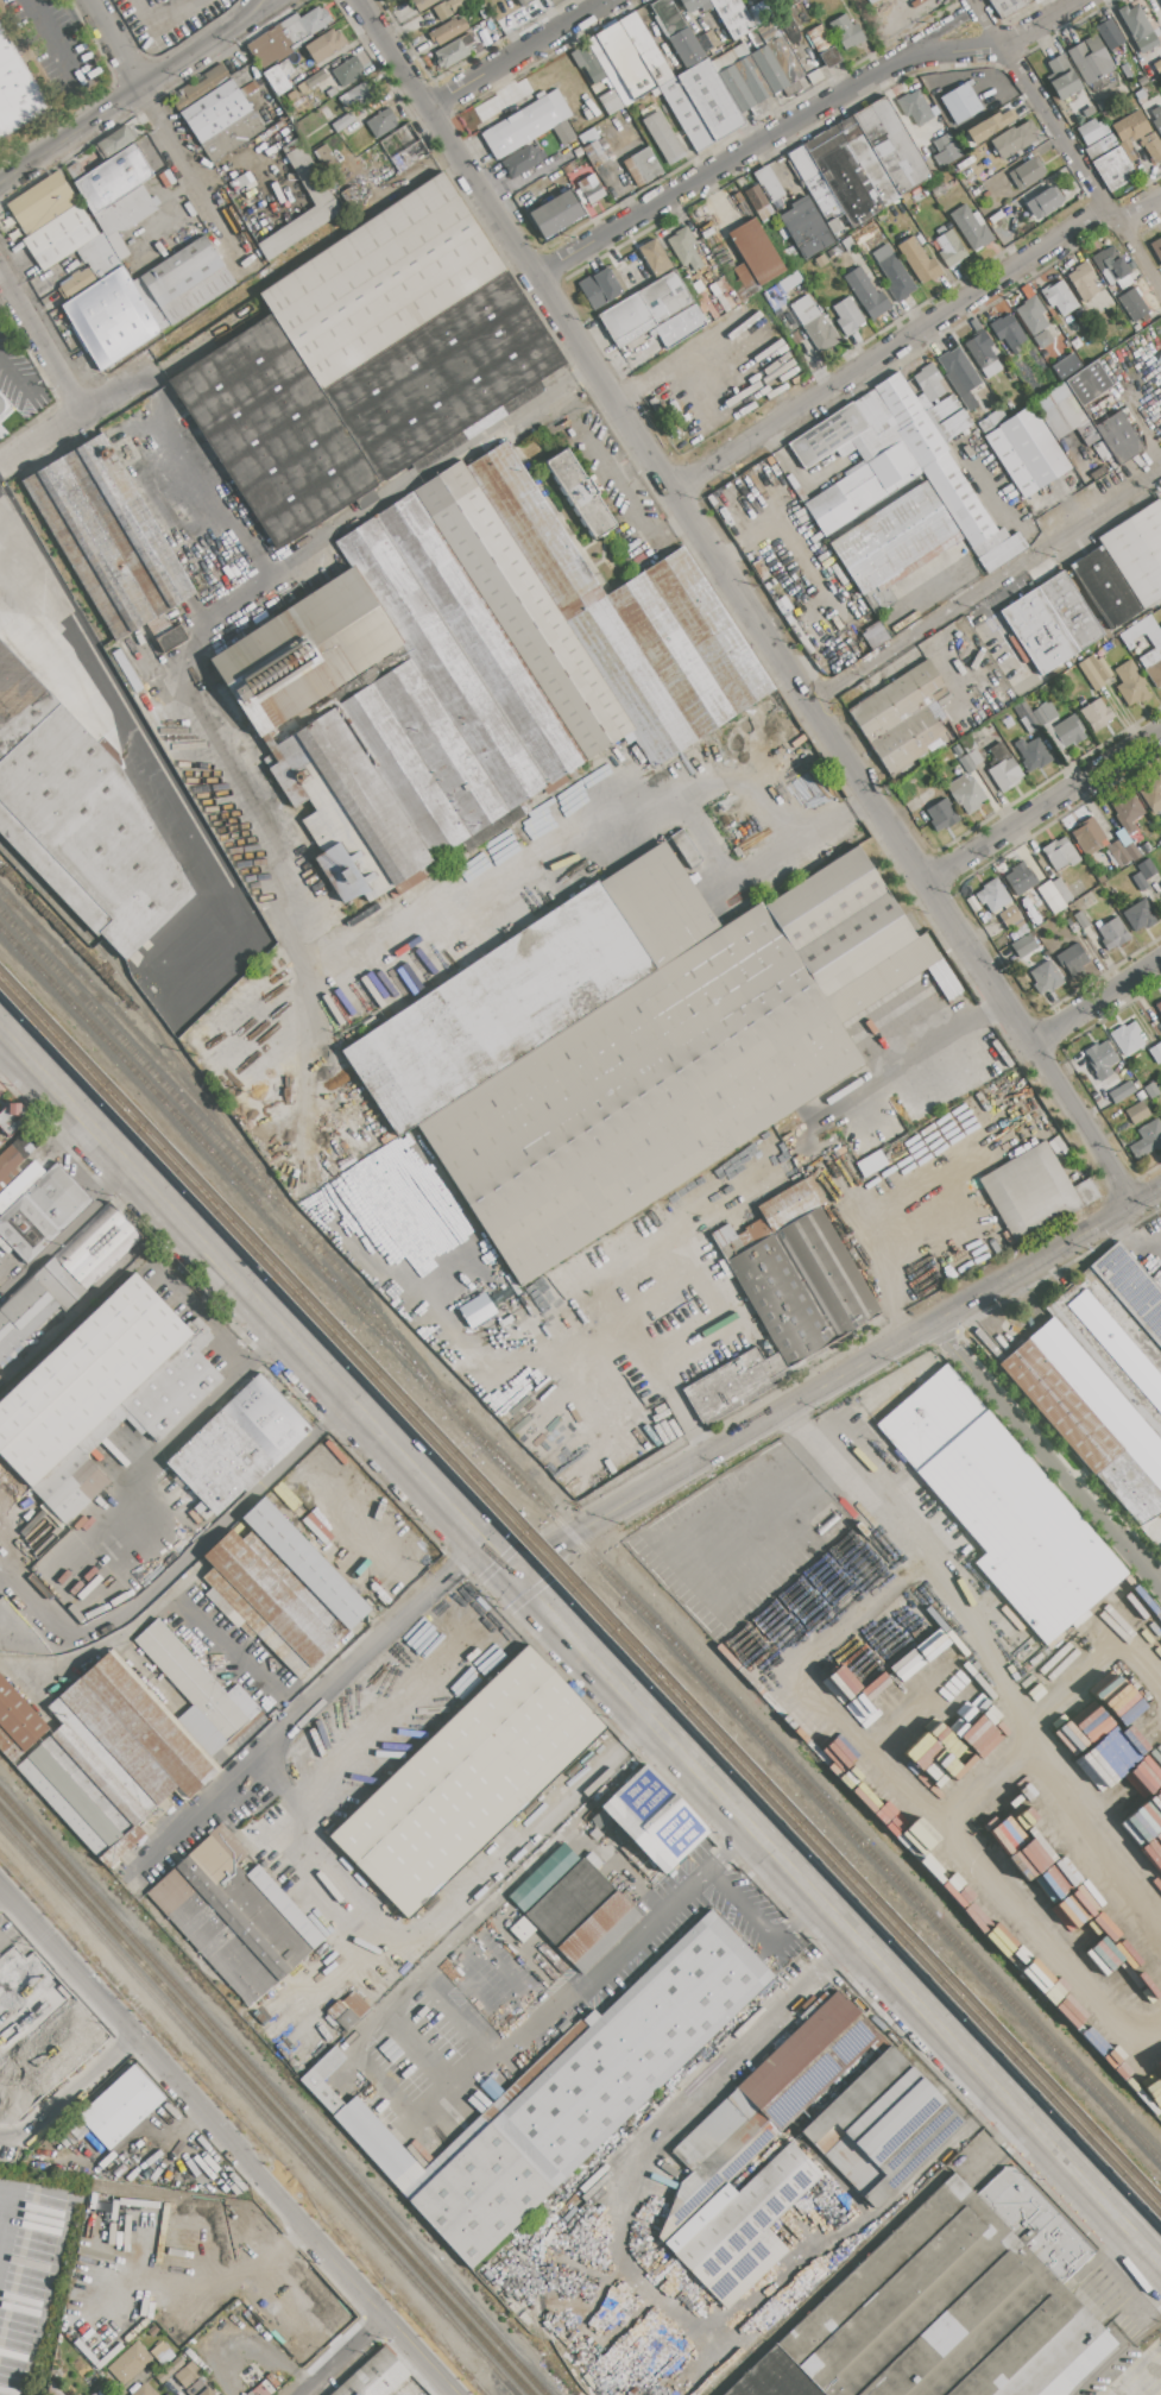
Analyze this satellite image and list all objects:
building: (870, 1)
building: (525, 2)
building: (789, 2)
building: (422, 4)
building: (695, 5)
building: (1005, 6)
building: (441, 11)
road: (260, 12)
building: (668, 17)
building: (732, 17)
building: (1137, 29)
road: (949, 30)
building: (448, 31)
building: (846, 32)
building: (1110, 34)
building: (288, 36)
road: (49, 40)
building: (708, 42)
road: (114, 45)
building: (824, 46)
building: (322, 48)
building: (687, 48)
building: (645, 49)
building: (453, 52)
road: (516, 53)
building: (785, 59)
building: (1090, 59)
building: (620, 63)
building: (588, 64)
building: (1157, 67)
building: (769, 69)
building: (1125, 70)
building: (347, 73)
building: (1062, 77)
building: (277, 80)
building: (1142, 80)
building: (742, 81)
building: (310, 82)
building: (932, 83)
building: (17, 90)
building: (332, 93)
building: (358, 95)
building: (971, 95)
road: (133, 96)
building: (711, 100)
building: (611, 102)
building: (332, 105)
building: (1102, 105)
building: (915, 107)
building: (219, 113)
building: (686, 114)
road: (802, 118)
building: (1156, 118)
building: (342, 122)
building: (528, 122)
building: (381, 124)
building: (990, 125)
building: (1092, 131)
building: (1137, 135)
building: (663, 138)
building: (1014, 139)
building: (115, 143)
road: (1066, 144)
building: (942, 145)
building: (403, 149)
building: (1099, 149)
building: (594, 153)
building: (326, 158)
building: (520, 160)
building: (859, 164)
building: (642, 166)
building: (1113, 169)
building: (75, 171)
building: (1027, 174)
building: (113, 178)
road: (197, 182)
building: (769, 183)
building: (589, 188)
building: (349, 195)
building: (1043, 202)
building: (42, 203)
building: (324, 203)
building: (759, 203)
building: (125, 212)
road: (1141, 214)
building: (555, 215)
building: (971, 228)
building: (806, 229)
building: (59, 237)
building: (1156, 247)
building: (686, 248)
building: (949, 248)
building: (102, 254)
building: (753, 256)
building: (654, 258)
building: (919, 260)
building: (1112, 267)
building: (896, 277)
building: (1083, 281)
building: (77, 283)
building: (599, 288)
building: (866, 294)
building: (1059, 297)
building: (145, 301)
road: (222, 305)
building: (1134, 305)
building: (645, 309)
building: (847, 316)
building: (680, 326)
building: (1034, 326)
building: (816, 328)
building: (1008, 332)
road: (42, 340)
road: (889, 348)
building: (983, 351)
building: (366, 363)
building: (1065, 366)
building: (959, 376)
road: (26, 379)
building: (929, 383)
building: (1087, 383)
building: (5, 404)
building: (1064, 415)
building: (991, 420)
building: (1118, 437)
building: (1027, 452)
building: (913, 456)
building: (892, 467)
road: (799, 478)
road: (406, 486)
building: (859, 489)
building: (580, 494)
road: (1003, 509)
building: (828, 511)
building: (108, 537)
building: (1137, 553)
building: (906, 557)
road: (986, 587)
building: (1105, 587)
road: (745, 603)
building: (1050, 623)
building: (1160, 626)
building: (1160, 629)
building: (1142, 631)
building: (873, 635)
building: (305, 651)
building: (1099, 667)
building: (1151, 667)
building: (1090, 675)
building: (499, 676)
building: (1131, 683)
road: (109, 701)
building: (1047, 711)
building: (1028, 716)
building: (1096, 716)
building: (1040, 717)
building: (904, 718)
building: (1008, 721)
building: (1026, 725)
building: (1068, 731)
building: (1033, 755)
building: (974, 757)
building: (966, 764)
building: (1003, 768)
building: (946, 769)
building: (965, 793)
building: (76, 795)
building: (927, 795)
building: (1153, 795)
road: (1043, 805)
building: (1127, 811)
building: (941, 814)
road: (601, 818)
building: (1089, 837)
building: (1127, 844)
building: (684, 847)
building: (1060, 853)
building: (1118, 853)
building: (1147, 869)
building: (1020, 877)
building: (1140, 881)
building: (1061, 890)
building: (992, 895)
building: (1009, 916)
building: (1138, 916)
building: (1080, 920)
building: (841, 921)
building: (1111, 935)
building: (1023, 945)
building: (1072, 959)
railway: (94, 964)
building: (882, 978)
building: (1046, 978)
building: (530, 989)
road: (1094, 1001)
building: (1159, 1010)
building: (1127, 1038)
railway: (135, 1040)
railway: (168, 1040)
building: (1156, 1052)
building: (1099, 1055)
road: (915, 1059)
building: (1151, 1090)
building: (1122, 1092)
building: (639, 1095)
building: (1137, 1111)
building: (11, 1118)
building: (1147, 1140)
railway: (229, 1154)
building: (871, 1164)
building: (417, 1168)
building: (1029, 1191)
building: (57, 1197)
building: (26, 1228)
road: (67, 1233)
road: (866, 1234)
road: (1132, 1246)
building: (818, 1259)
road: (219, 1261)
road: (698, 1271)
building: (65, 1277)
building: (1131, 1287)
building: (778, 1300)
building: (475, 1310)
road: (993, 1330)
road: (632, 1337)
building: (1117, 1347)
road: (490, 1351)
road: (837, 1381)
building: (733, 1384)
building: (102, 1395)
building: (1089, 1418)
building: (240, 1444)
road: (162, 1447)
road: (1047, 1455)
road: (884, 1475)
building: (1002, 1507)
road: (479, 1537)
railway: (580, 1543)
road: (189, 1555)
road: (694, 1565)
road: (758, 1580)
traffic signals: (520, 1581)
building: (278, 1589)
railway: (580, 1594)
railway: (580, 1609)
road: (989, 1637)
road: (1096, 1666)
road: (305, 1703)
building: (17, 1722)
building: (132, 1740)
road: (354, 1752)
building: (1106, 1758)
road: (990, 1777)
building: (466, 1782)
road: (917, 1797)
road: (1093, 1811)
building: (651, 1819)
building: (909, 1835)
building: (936, 1864)
road: (460, 1901)
building: (581, 1915)
building: (234, 1917)
road: (759, 1921)
road: (840, 1922)
road: (2, 1941)
road: (612, 1950)
building: (1132, 1954)
road: (466, 1962)
building: (347, 2010)
building: (582, 2090)
railway: (272, 2093)
building: (321, 2093)
railway: (264, 2101)
railway: (259, 2109)
building: (115, 2110)
building: (882, 2126)
building: (377, 2143)
road: (227, 2144)
building: (718, 2147)
road: (642, 2293)
building: (948, 2307)
building: (152, 2331)
railway: (525, 2340)
building: (162, 2353)
road: (341, 2355)
railway: (1117, 2355)
building: (133, 2361)
railway: (557, 2368)
building: (188, 2375)
building: (374, 2376)
building: (264, 2387)
building: (140, 2389)
building: (52, 2390)
building: (208, 2391)
building: (168, 2394)

